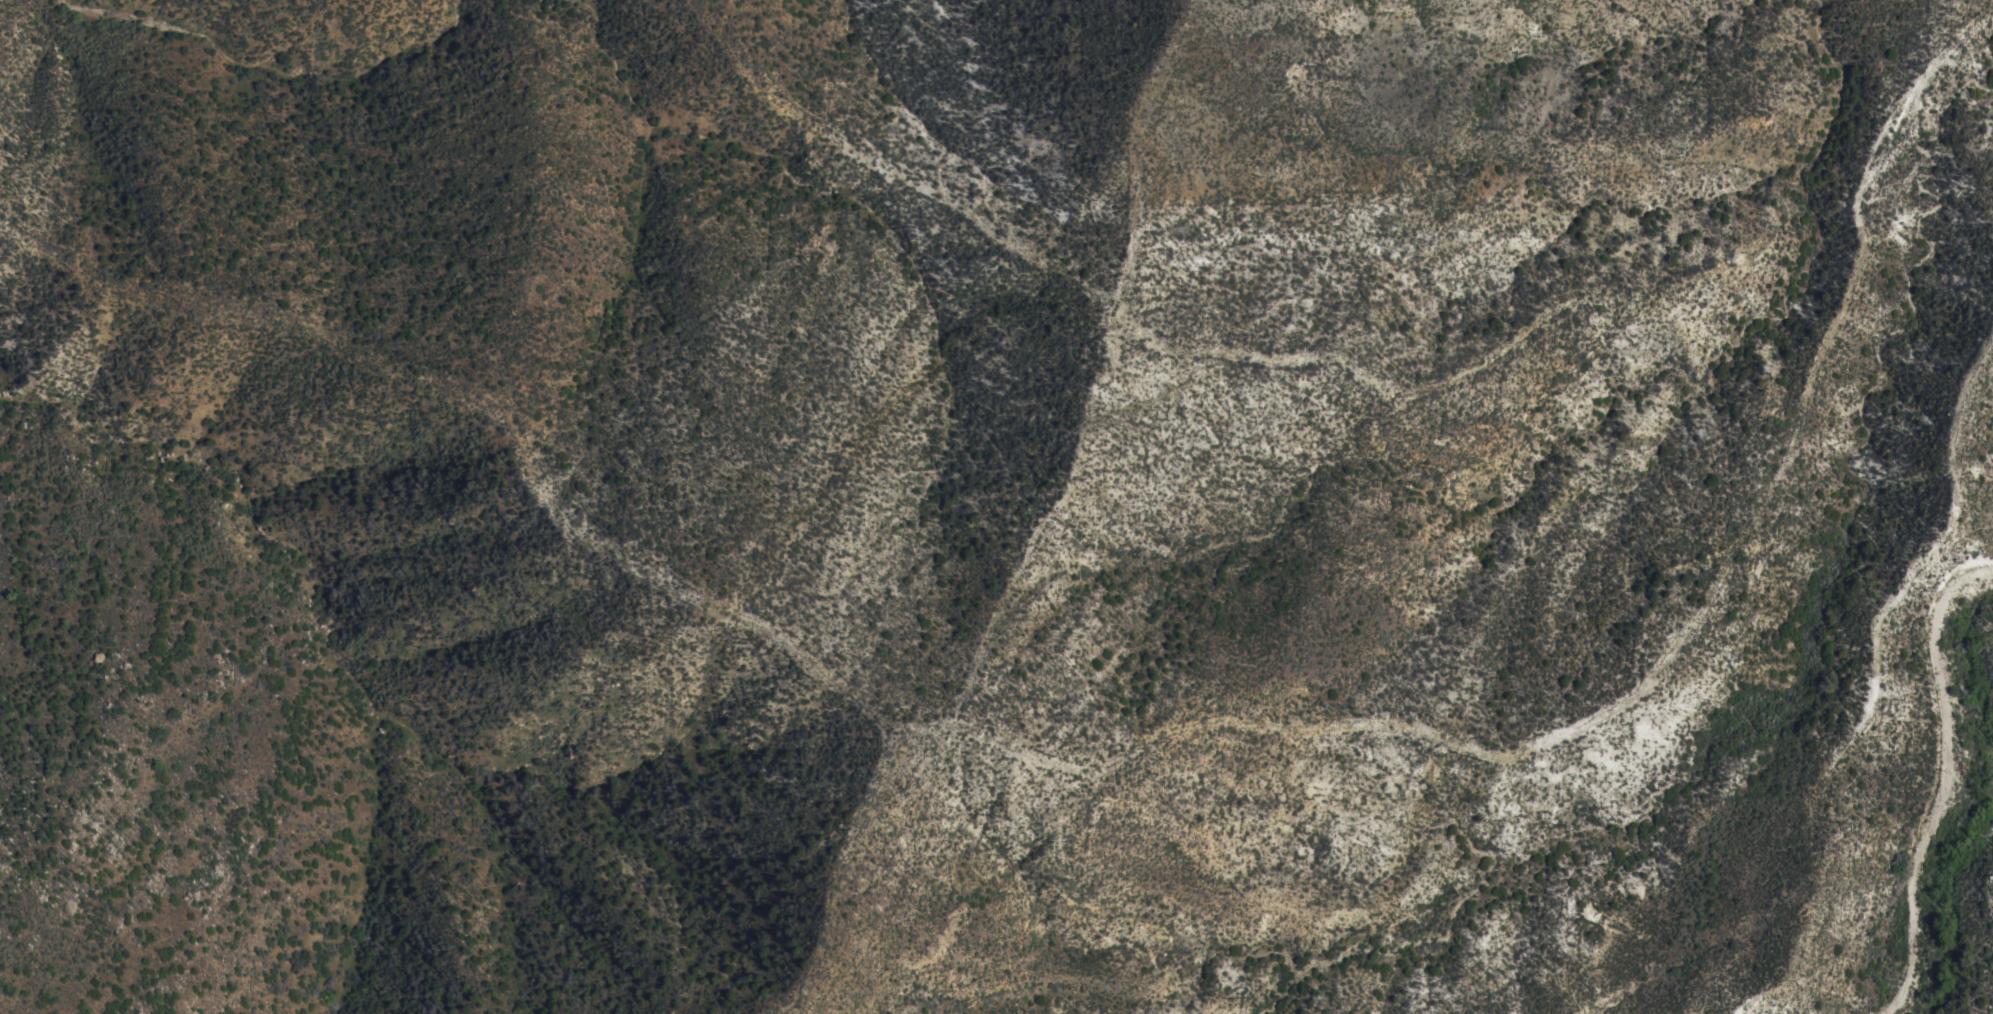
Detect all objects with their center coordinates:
road: (1959, 824)

